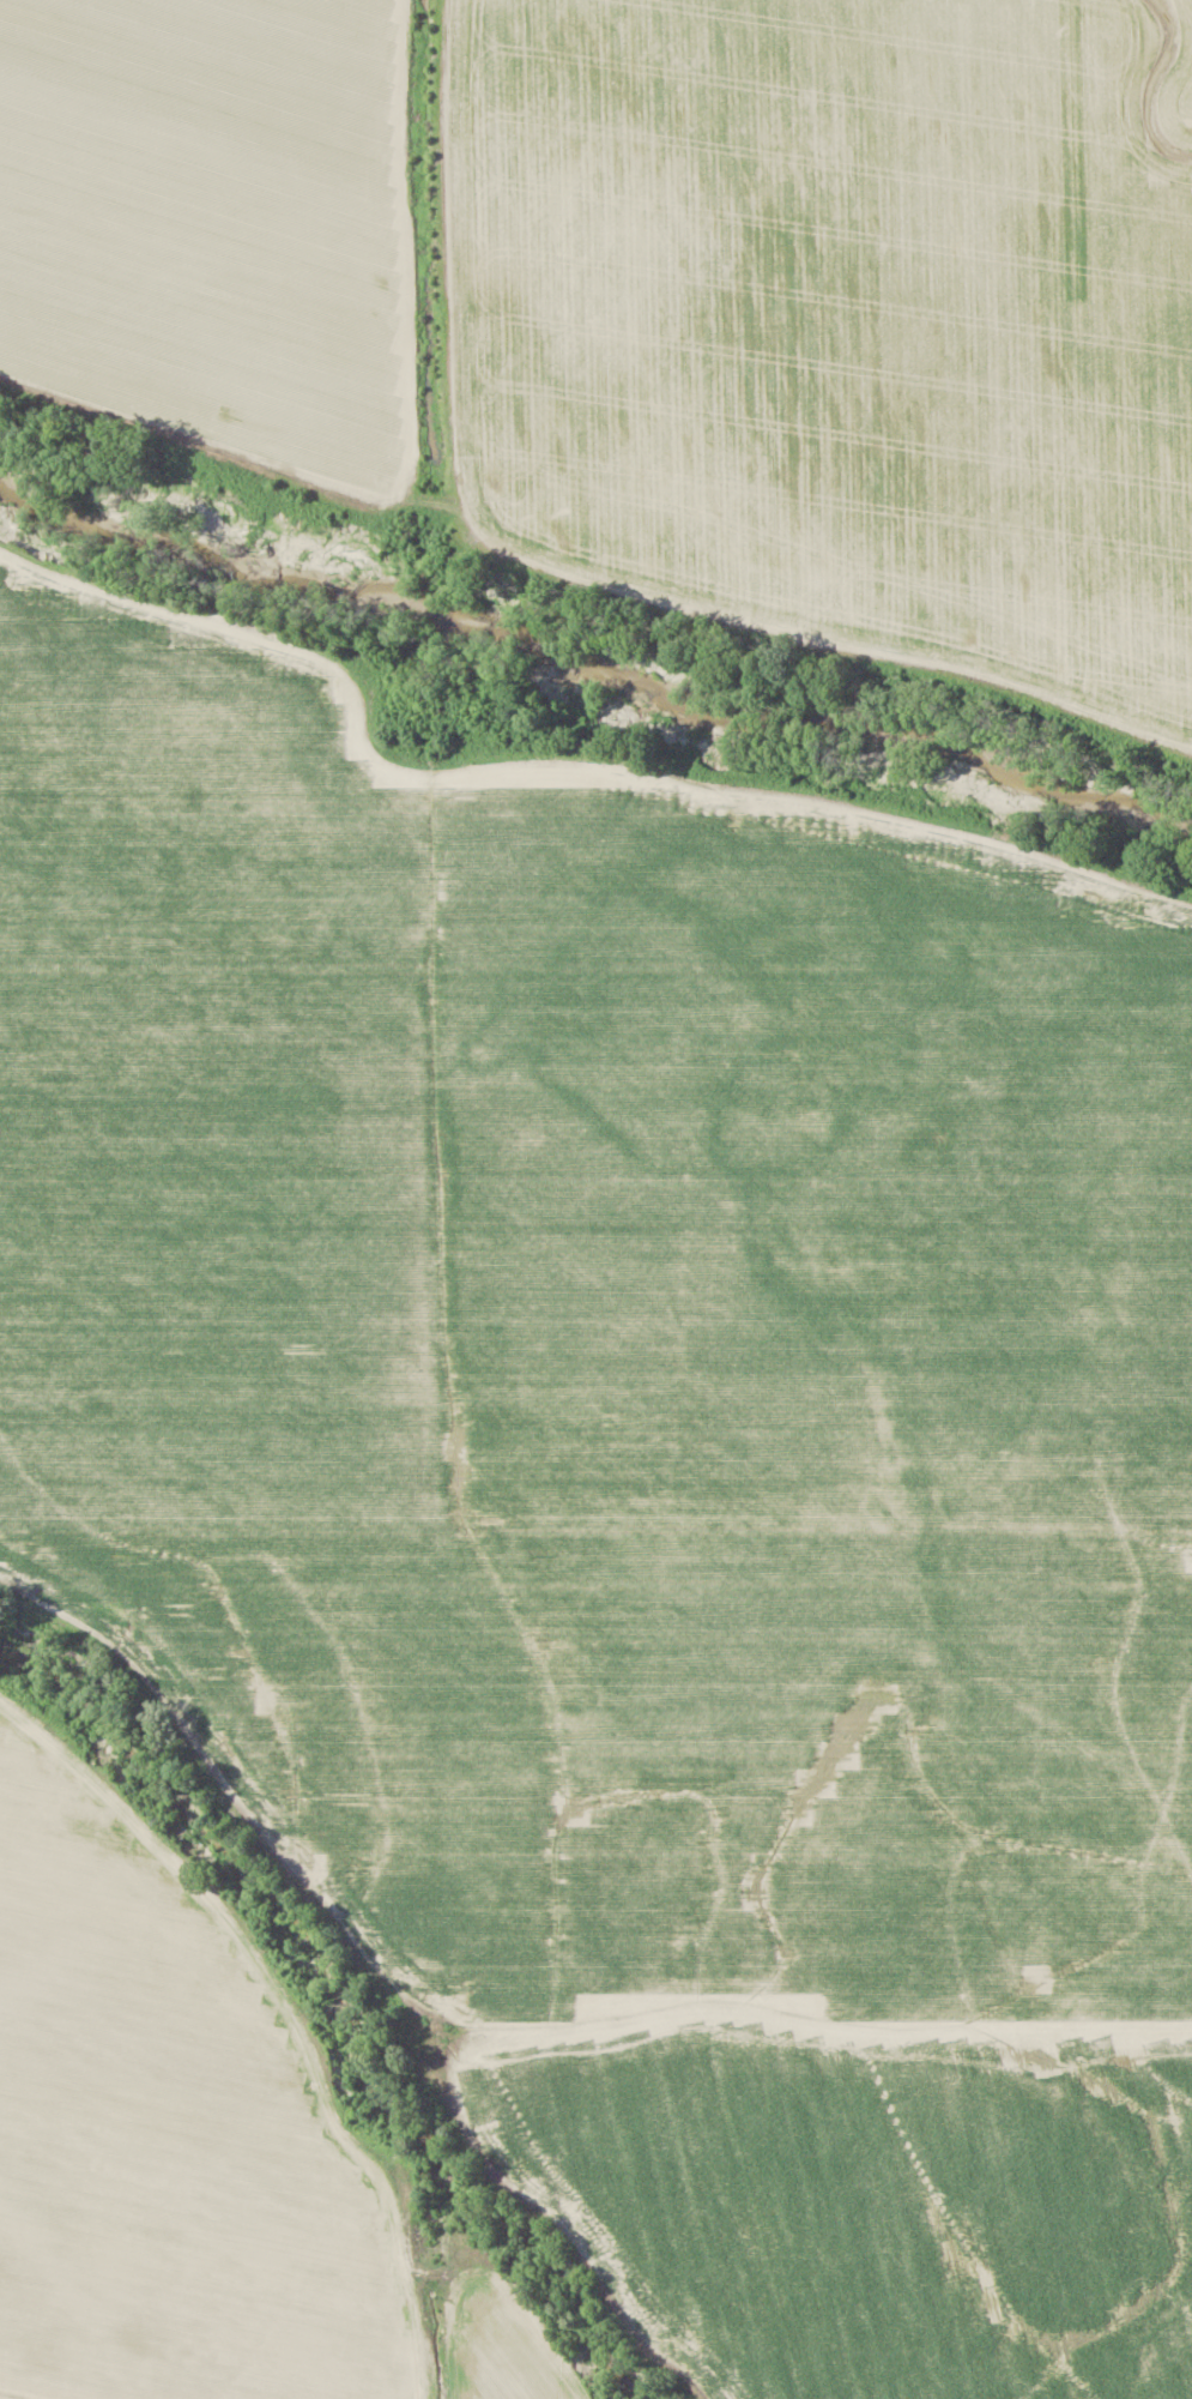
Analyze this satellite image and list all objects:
building: (928, 2208)

